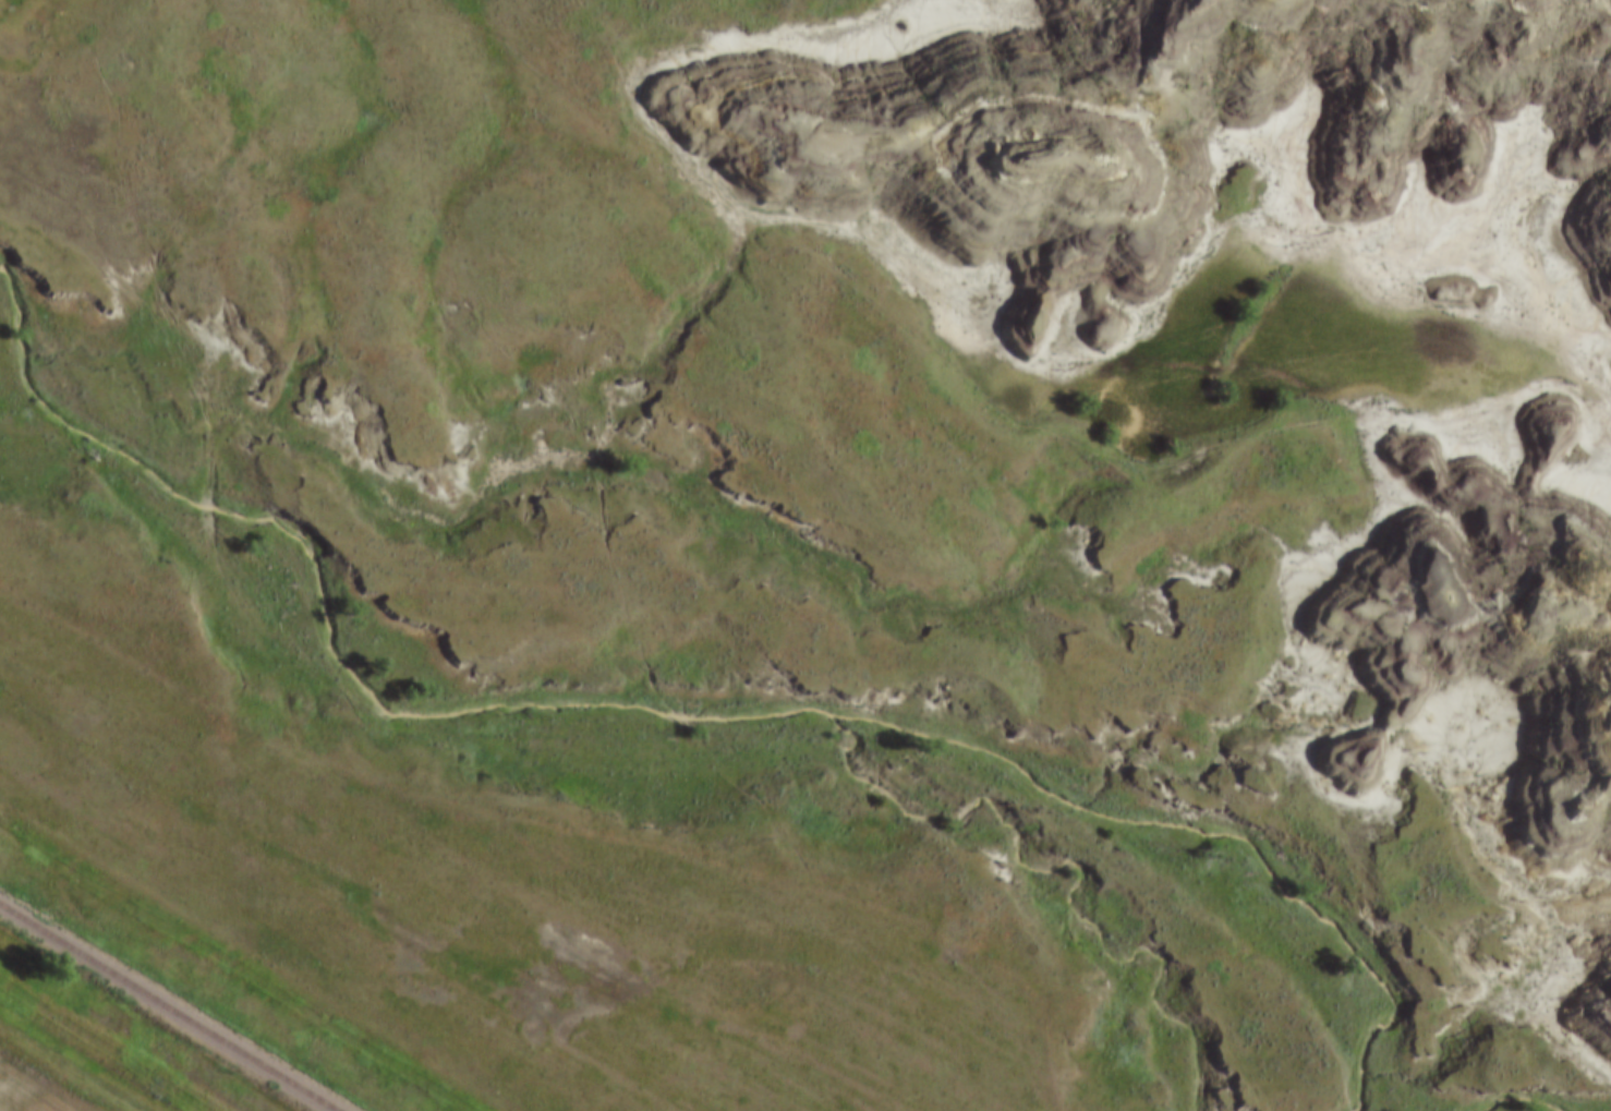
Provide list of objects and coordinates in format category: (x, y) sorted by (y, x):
railway: (168, 1007)
road: (66, 1068)

